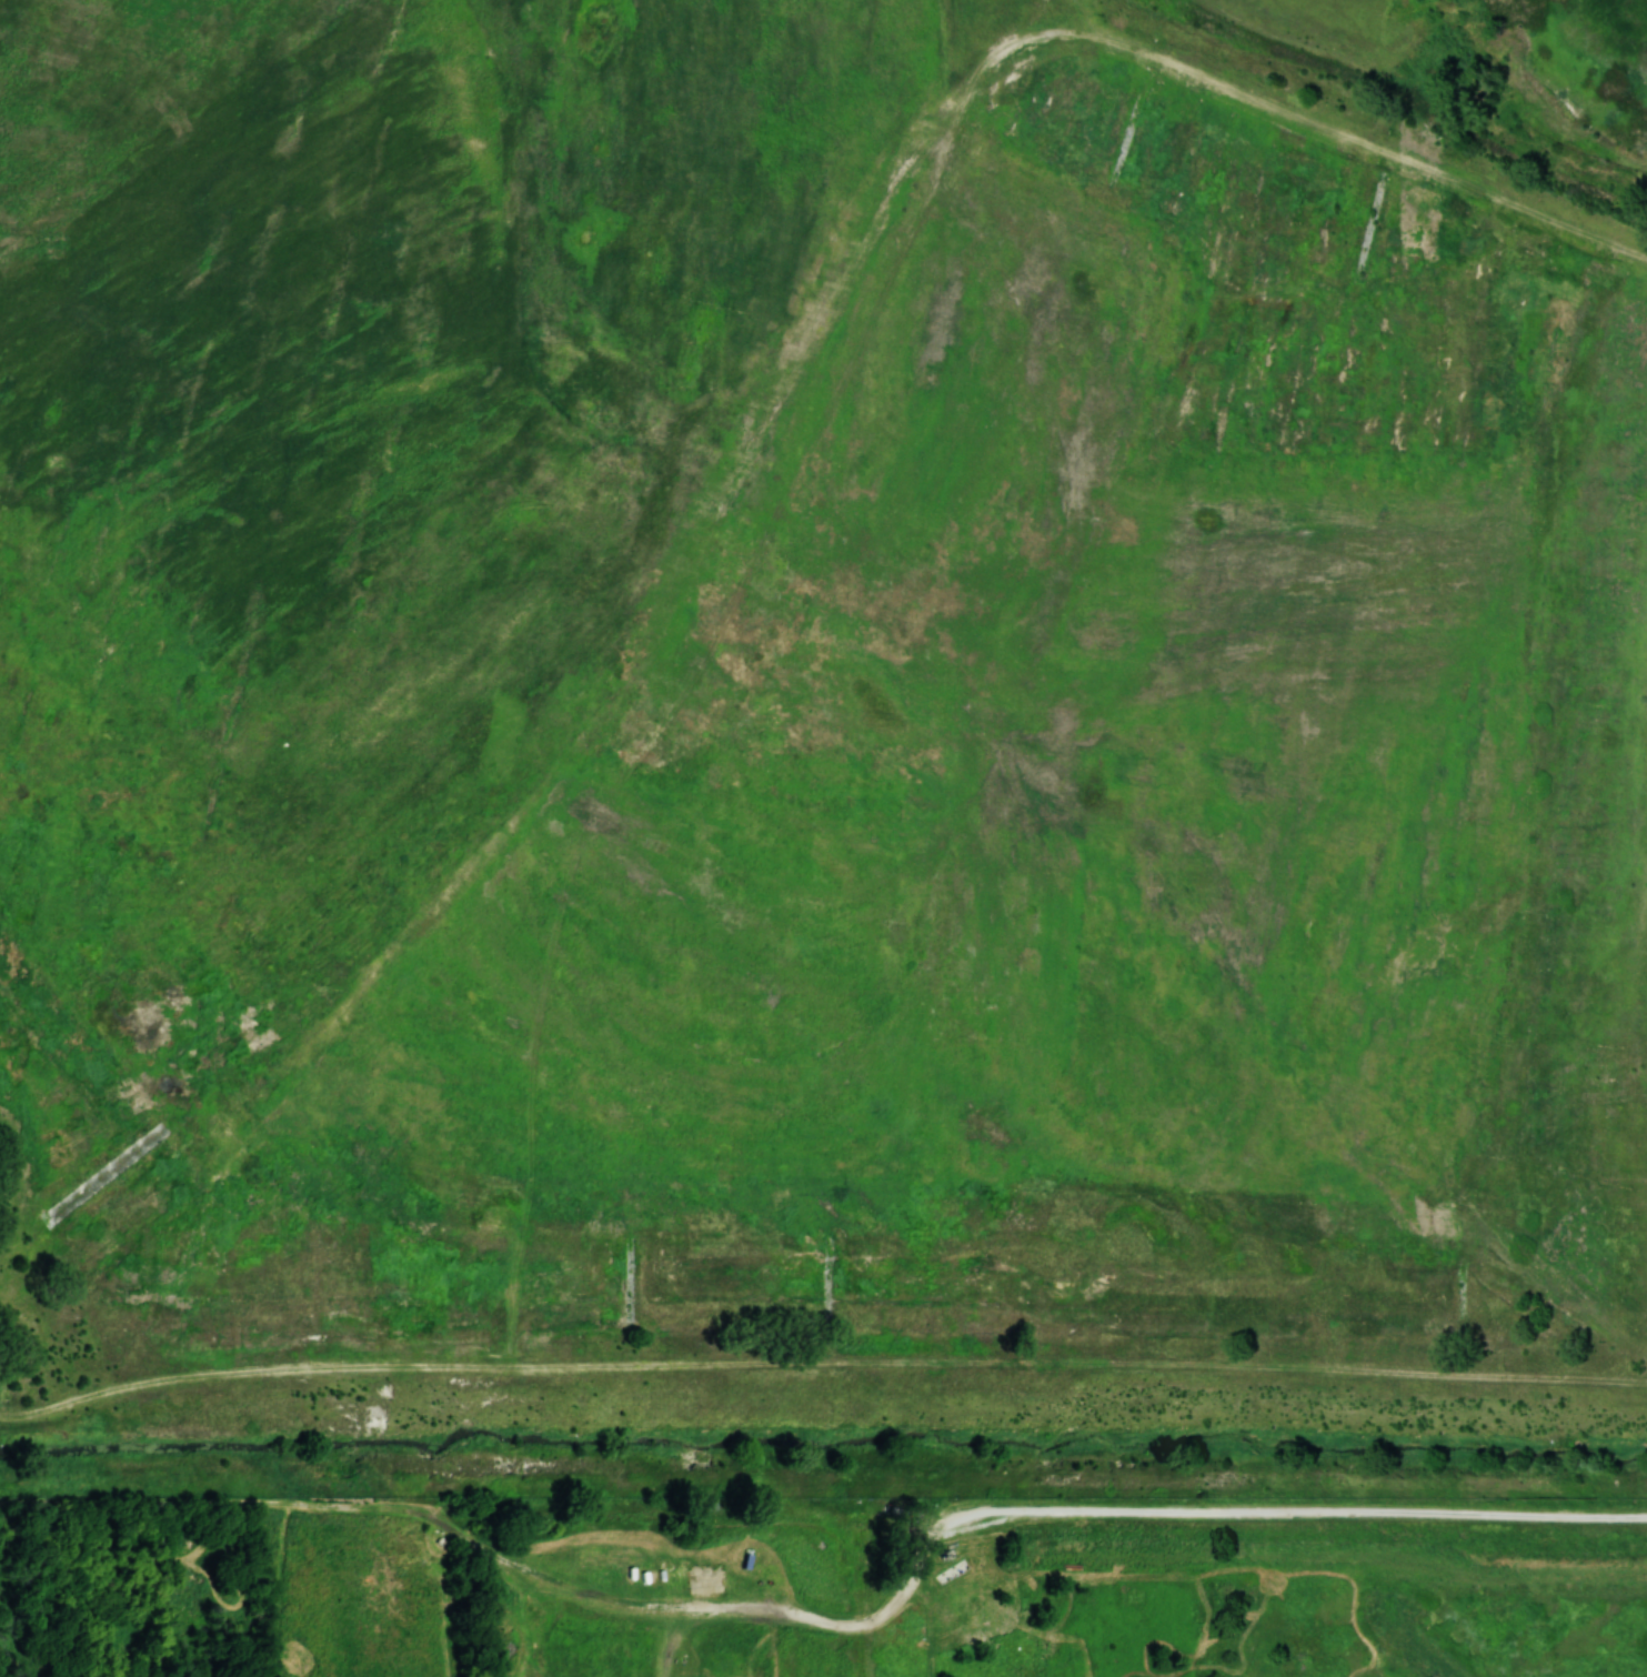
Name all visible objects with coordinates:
landfill: (826, 706)
road: (1296, 1509)
park: (830, 1578)

